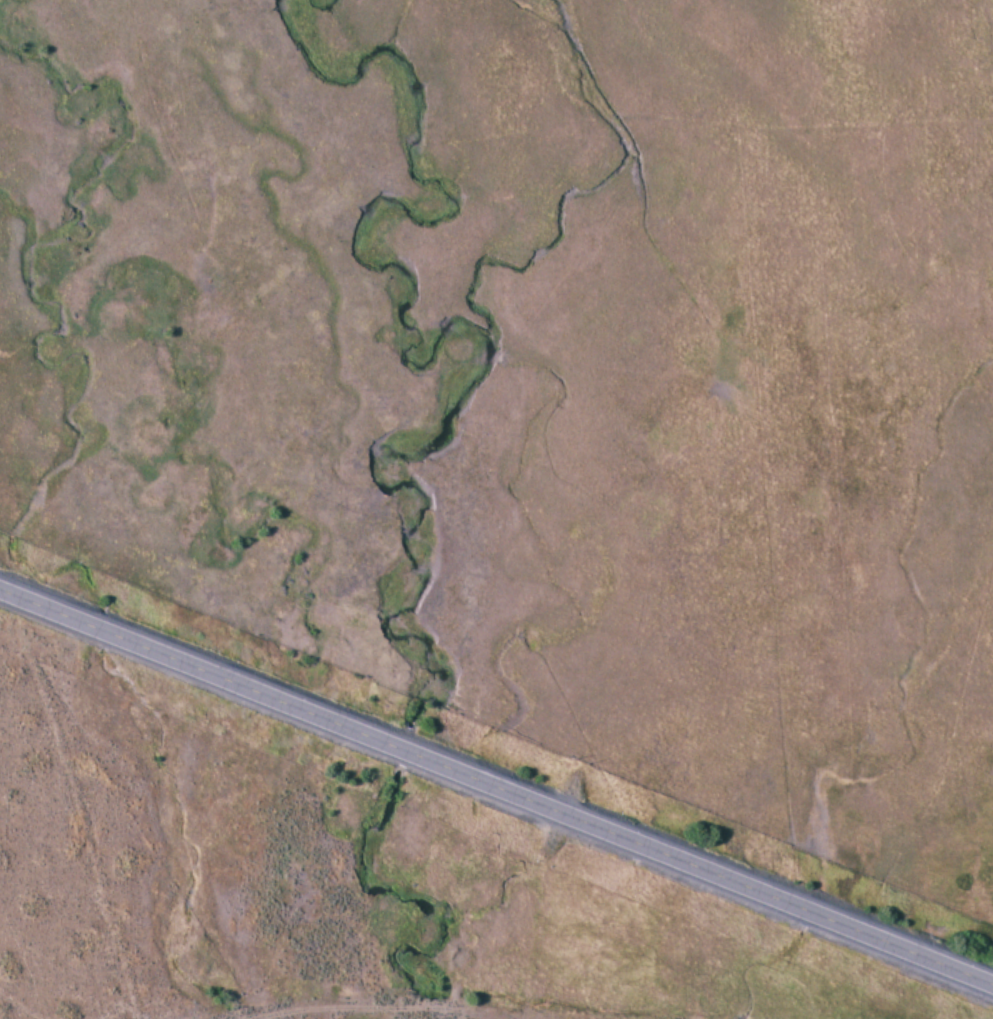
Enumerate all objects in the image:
road: (495, 786)
road: (315, 1009)

